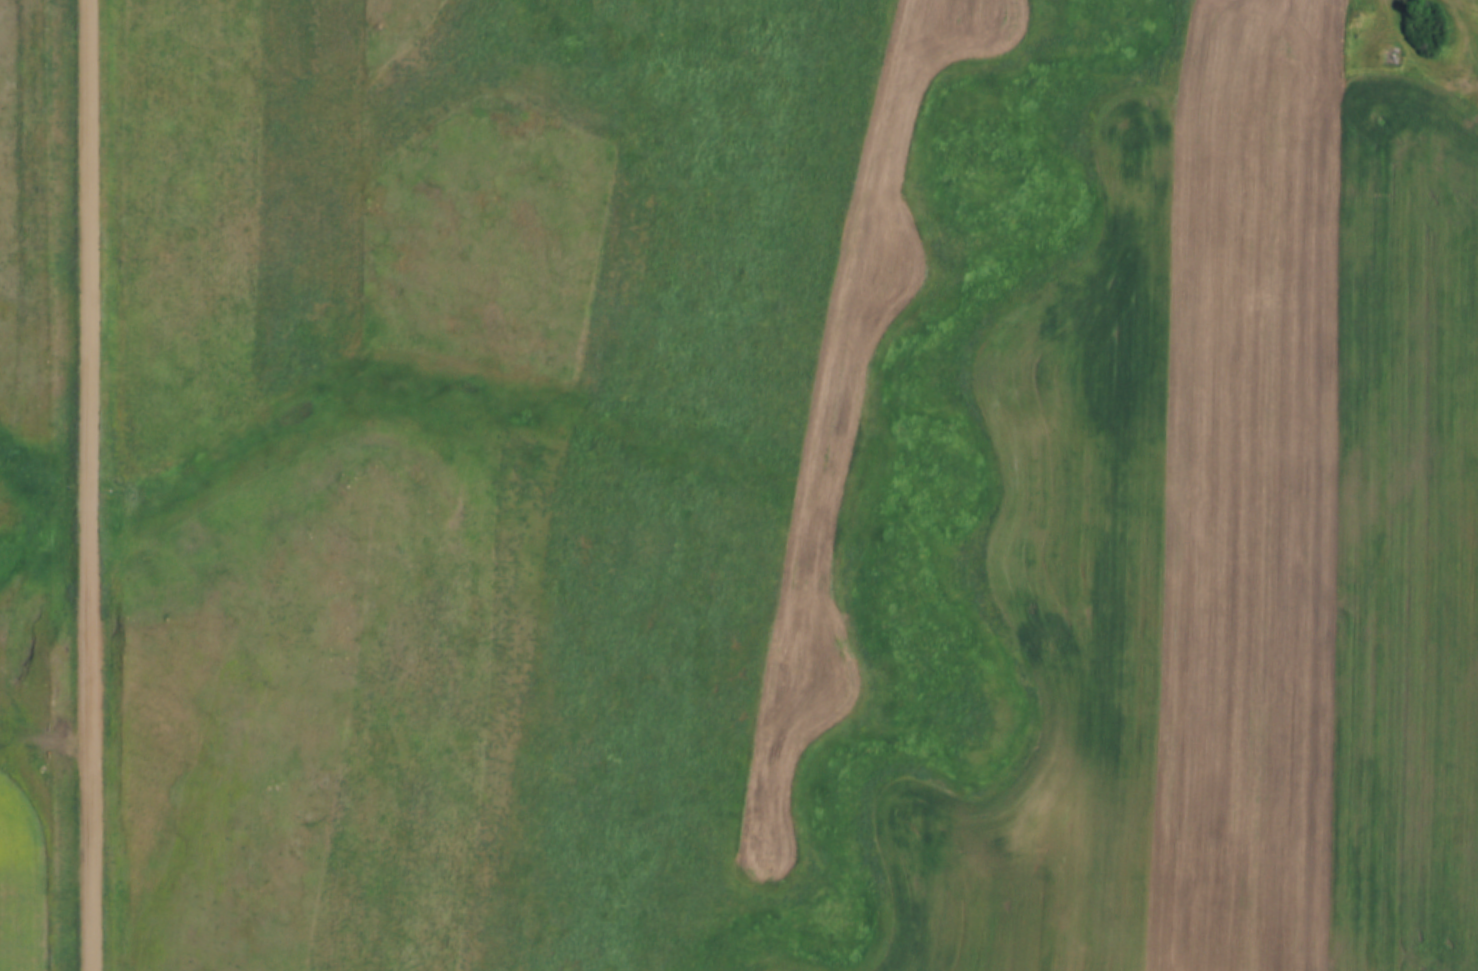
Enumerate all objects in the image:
road: (1078, 40)
road: (1419, 59)
road: (89, 485)

